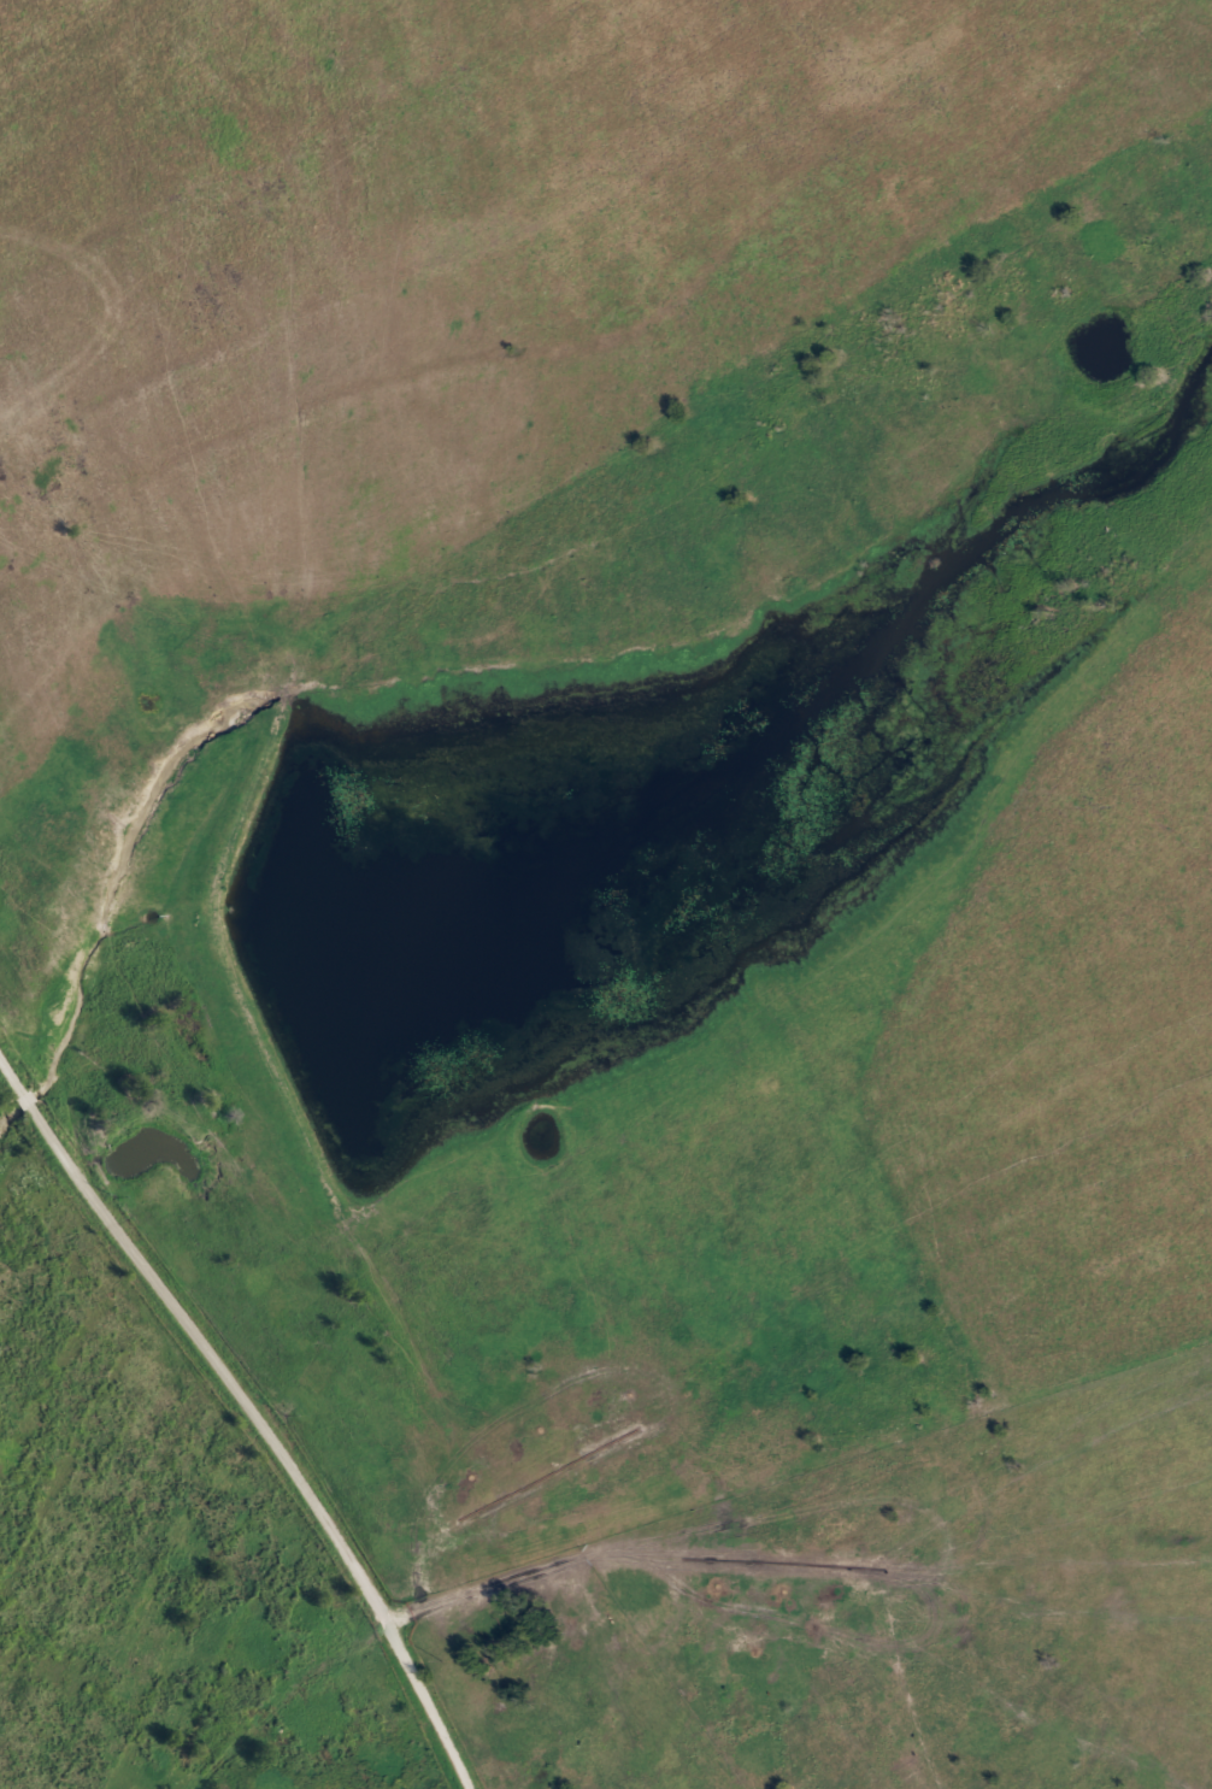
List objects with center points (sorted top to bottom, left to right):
dam: (240, 984)
road: (251, 1413)

